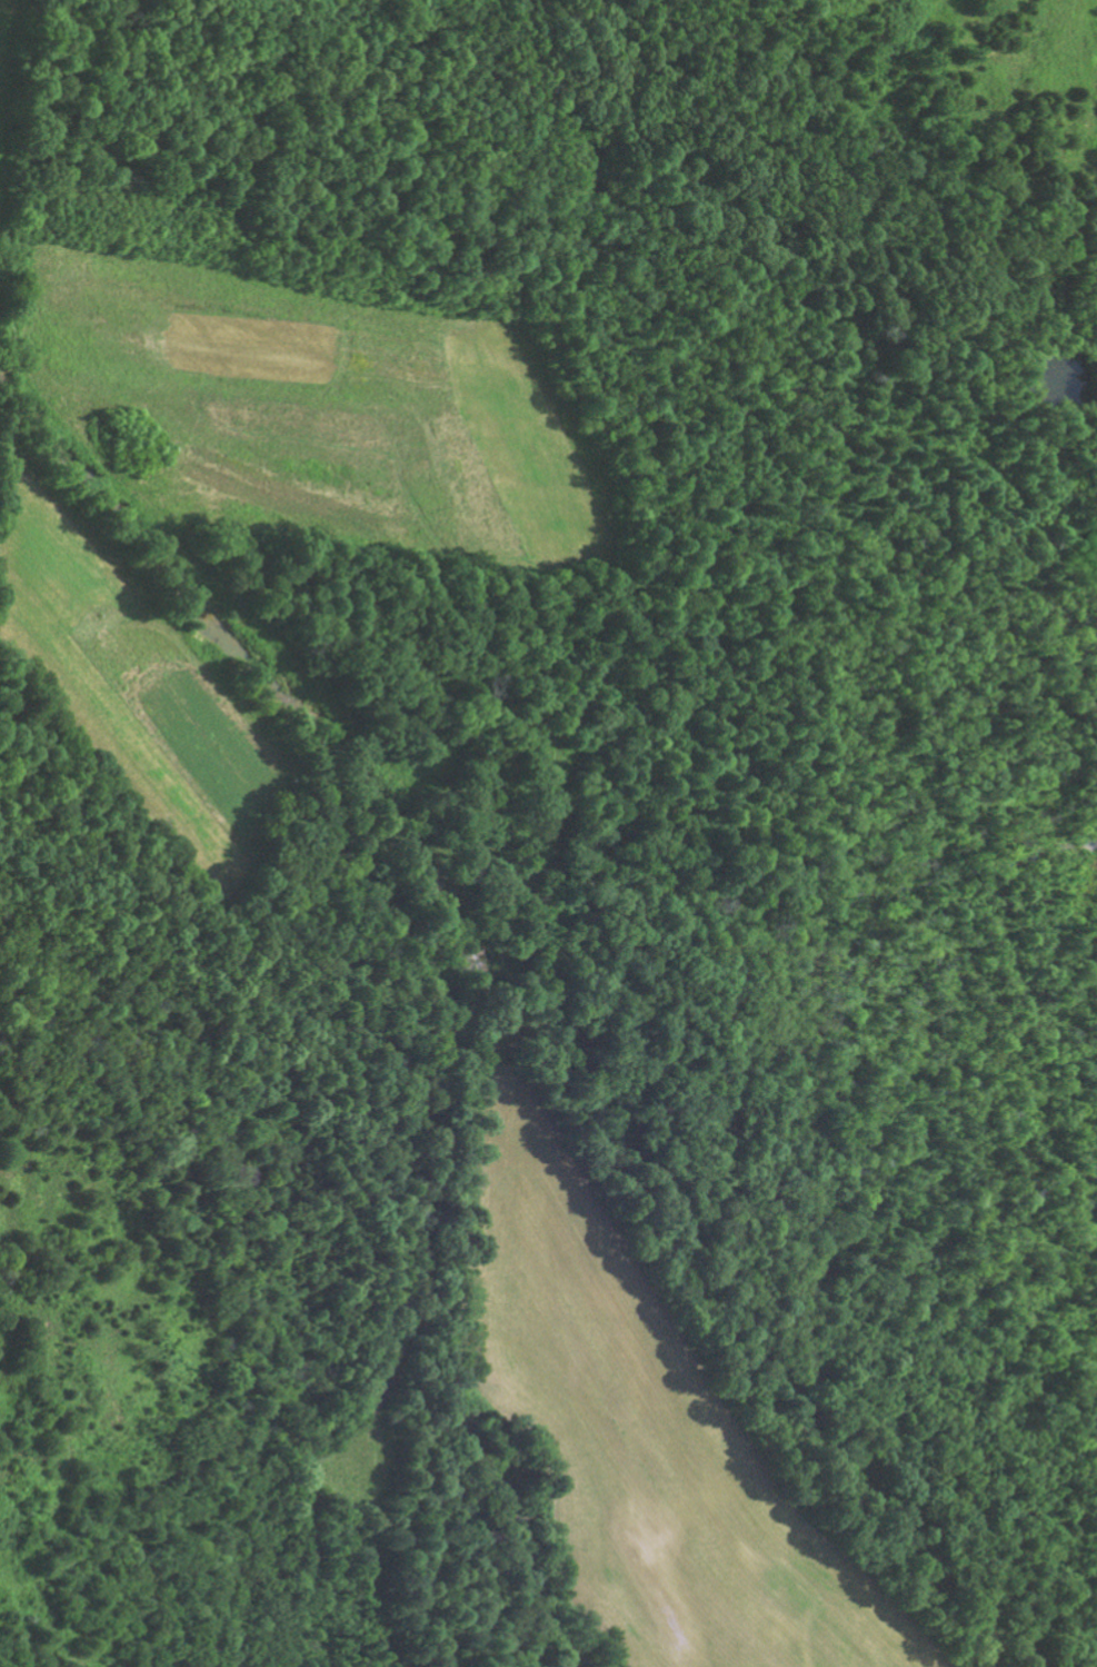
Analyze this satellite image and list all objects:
road: (856, 261)

